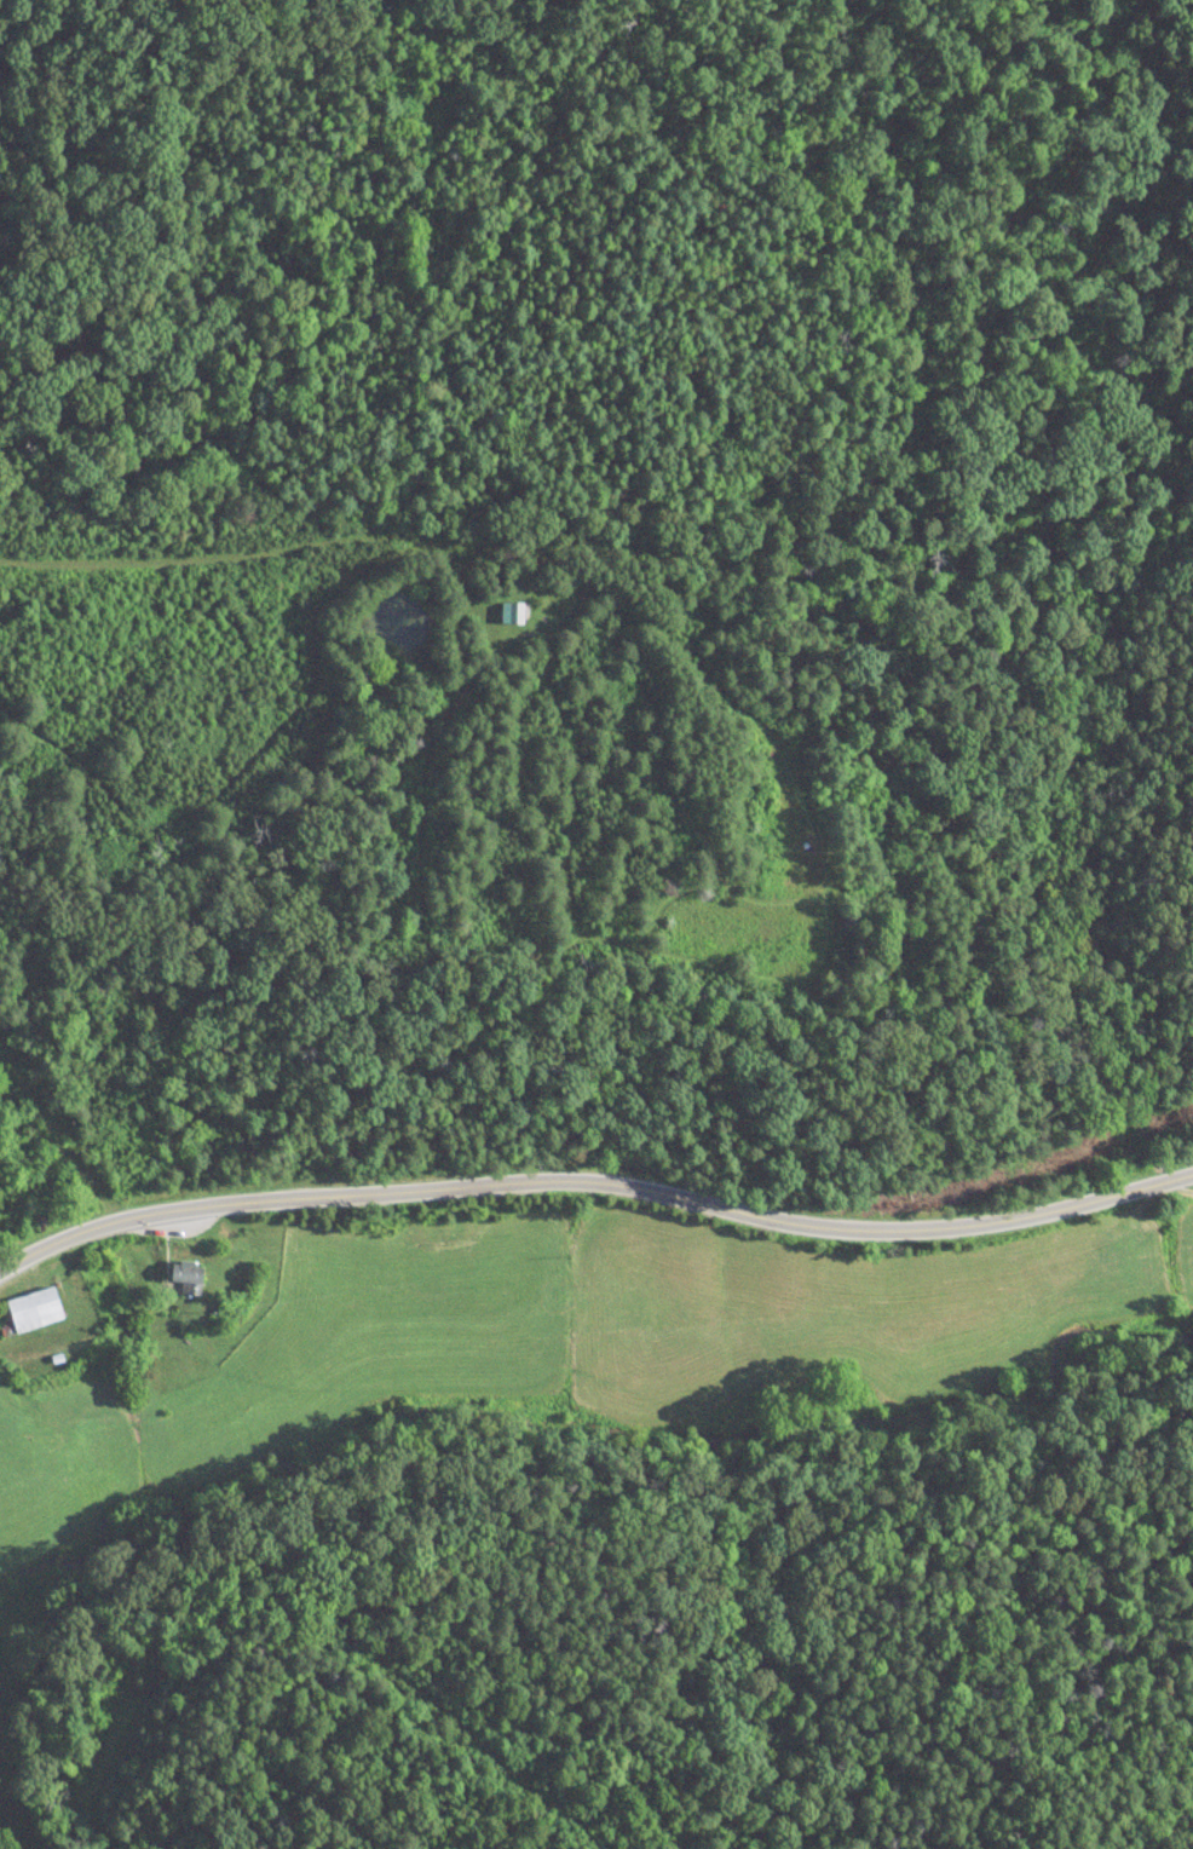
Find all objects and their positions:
road: (269, 563)
road: (56, 1142)
road: (595, 1187)
building: (186, 1275)
building: (30, 1312)

